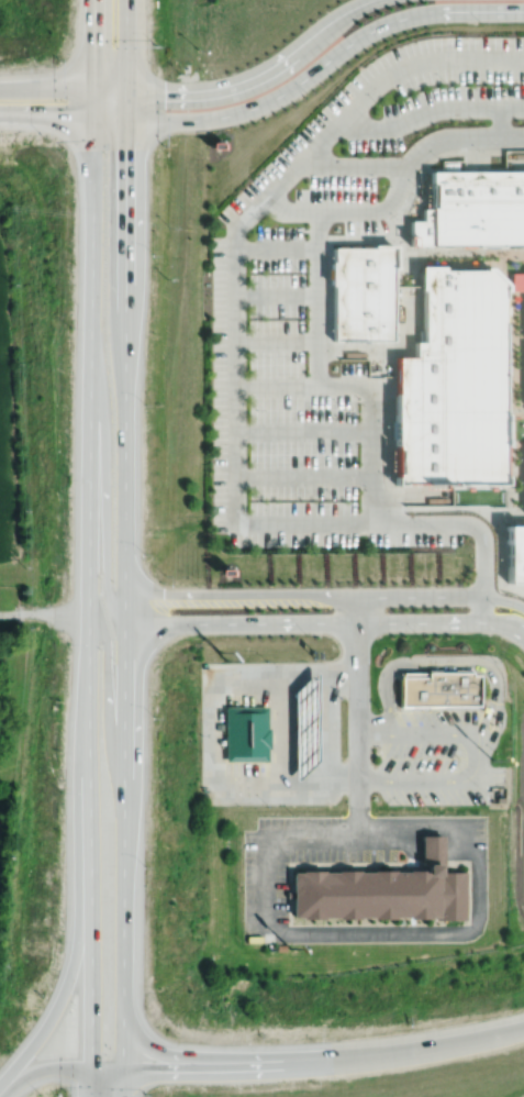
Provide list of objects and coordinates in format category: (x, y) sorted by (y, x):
road: (94, 44)
road: (124, 57)
road: (323, 63)
road: (258, 76)
parking lot: (442, 78)
road: (62, 88)
traffic signals: (93, 89)
traffic signals: (124, 91)
road: (93, 100)
road: (336, 108)
road: (62, 111)
traffic signals: (93, 111)
traffic signals: (124, 115)
road: (491, 122)
road: (455, 140)
road: (341, 165)
building: (475, 210)
road: (442, 256)
road: (520, 257)
building: (444, 261)
road: (226, 297)
building: (371, 330)
road: (364, 342)
road: (517, 343)
parking lot: (272, 345)
road: (125, 358)
road: (93, 363)
building: (455, 384)
building: (277, 403)
road: (521, 429)
road: (519, 463)
road: (441, 497)
road: (102, 514)
road: (519, 519)
road: (293, 525)
road: (443, 525)
road: (521, 542)
road: (521, 545)
road: (513, 589)
road: (325, 602)
road: (47, 614)
road: (125, 616)
road: (324, 629)
road: (499, 631)
road: (413, 663)
building: (441, 689)
road: (107, 696)
road: (486, 714)
road: (358, 718)
road: (324, 723)
road: (367, 723)
building: (303, 724)
gas station: (303, 724)
building: (219, 725)
road: (280, 725)
road: (495, 729)
road: (208, 730)
building: (245, 732)
road: (477, 766)
road: (92, 843)
parking lot: (342, 853)
building: (433, 854)
road: (123, 863)
building: (379, 895)
road: (379, 933)
road: (74, 960)
road: (309, 1066)
road: (42, 1071)
traffic signals: (91, 1071)
traffic signals: (123, 1071)
road: (91, 1084)

